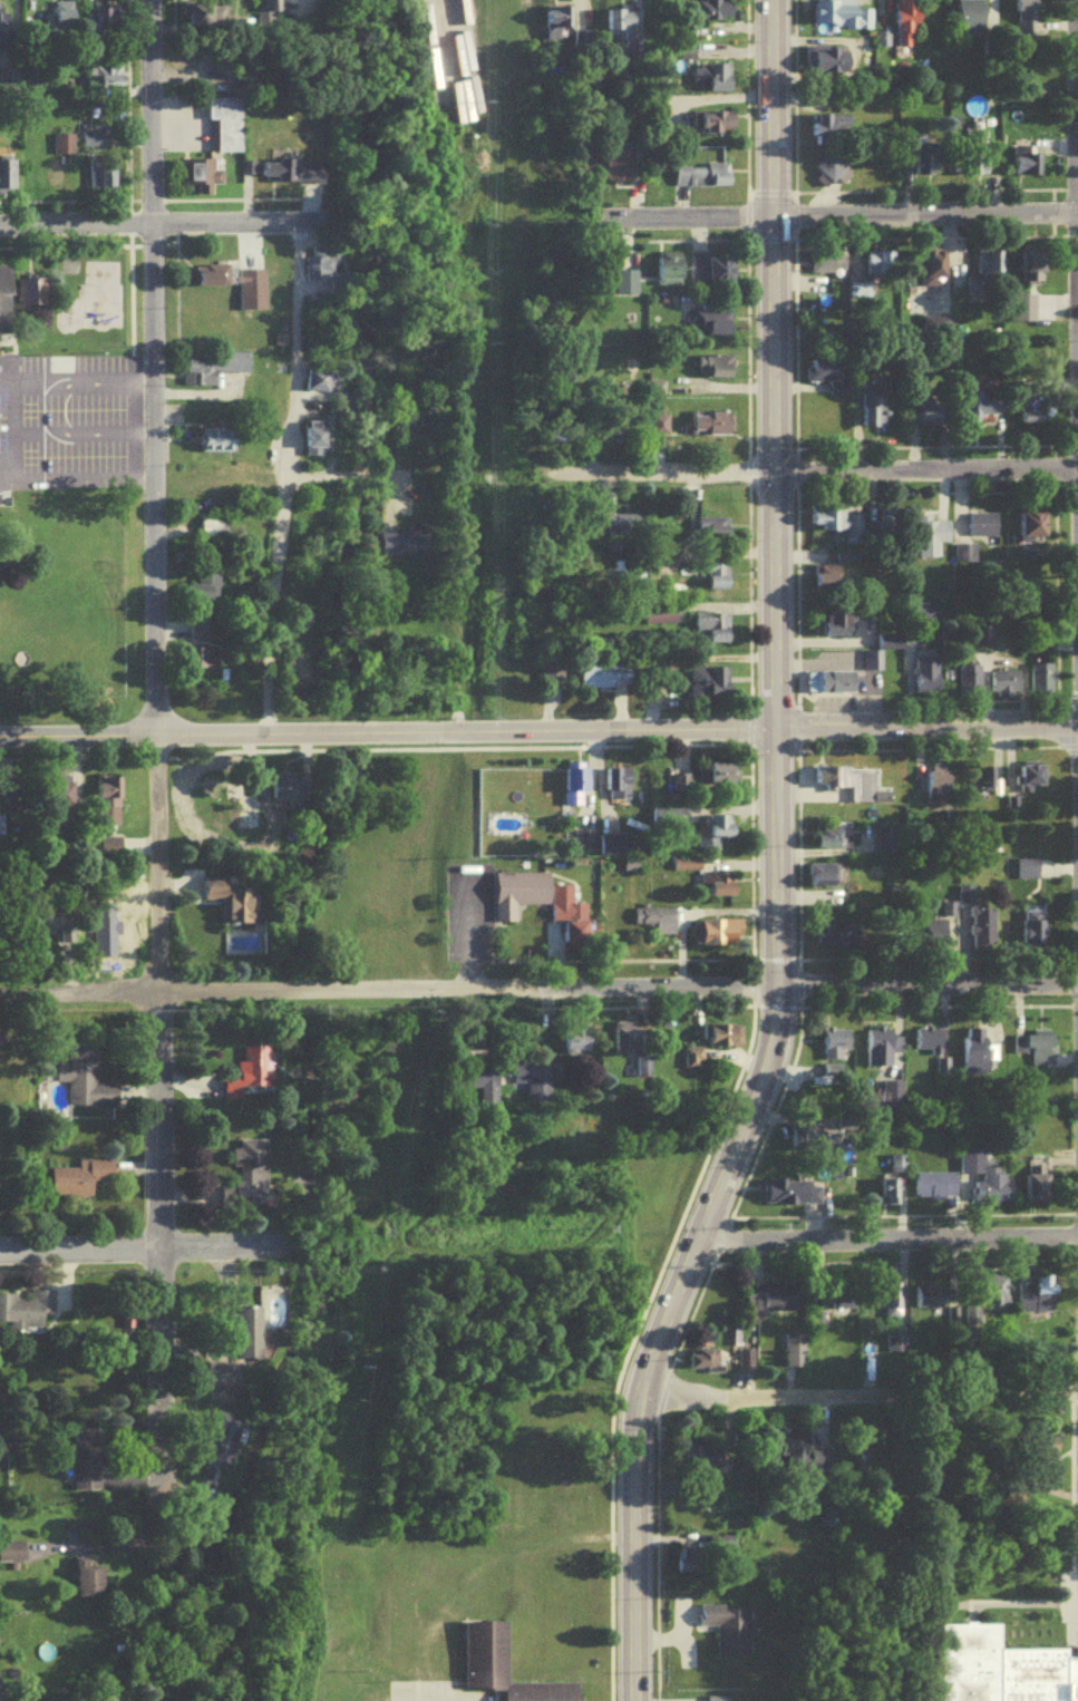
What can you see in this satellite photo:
building: (718, 13)
building: (269, 17)
building: (841, 18)
building: (1027, 19)
building: (205, 20)
building: (972, 20)
building: (111, 23)
building: (907, 26)
building: (557, 27)
building: (621, 28)
building: (3, 33)
building: (883, 43)
building: (829, 65)
building: (711, 81)
building: (106, 84)
building: (8, 86)
road: (1076, 107)
building: (715, 126)
building: (229, 127)
building: (834, 132)
building: (90, 142)
building: (64, 147)
building: (929, 158)
building: (618, 166)
building: (1027, 166)
building: (833, 173)
building: (292, 175)
building: (101, 179)
building: (203, 179)
building: (702, 179)
building: (6, 181)
road: (838, 217)
road: (140, 226)
building: (280, 264)
building: (829, 268)
building: (990, 268)
building: (1035, 271)
building: (886, 272)
building: (318, 273)
building: (933, 273)
building: (670, 274)
building: (715, 274)
building: (213, 283)
building: (625, 288)
building: (35, 295)
building: (1045, 304)
building: (4, 305)
building: (713, 328)
building: (213, 372)
building: (721, 372)
building: (825, 377)
road: (95, 381)
building: (324, 387)
building: (991, 408)
road: (10, 409)
building: (1036, 416)
building: (874, 418)
building: (932, 419)
building: (713, 429)
road: (95, 435)
building: (221, 445)
building: (318, 447)
road: (9, 454)
road: (332, 472)
road: (383, 472)
road: (76, 473)
road: (815, 476)
road: (288, 483)
road: (398, 484)
road: (771, 490)
building: (836, 524)
building: (930, 526)
building: (624, 529)
building: (983, 531)
building: (214, 532)
building: (1035, 532)
building: (716, 533)
building: (404, 548)
building: (967, 558)
building: (716, 577)
building: (828, 580)
building: (206, 591)
building: (923, 615)
building: (660, 619)
building: (841, 628)
building: (713, 634)
building: (198, 638)
building: (891, 648)
building: (207, 663)
building: (603, 679)
building: (928, 681)
building: (1045, 683)
building: (972, 686)
building: (833, 687)
building: (710, 688)
building: (1008, 689)
road: (538, 735)
road: (153, 736)
building: (726, 778)
building: (983, 787)
building: (853, 788)
building: (621, 789)
building: (577, 790)
building: (280, 793)
building: (0, 800)
building: (62, 800)
building: (108, 801)
building: (0, 829)
building: (717, 835)
building: (834, 842)
building: (584, 845)
building: (1028, 874)
building: (825, 879)
building: (719, 890)
building: (964, 901)
building: (232, 905)
building: (542, 907)
building: (658, 924)
building: (56, 932)
building: (982, 932)
building: (1035, 932)
building: (720, 937)
building: (838, 939)
building: (934, 939)
road: (926, 982)
road: (466, 986)
road: (78, 992)
building: (579, 1042)
building: (726, 1042)
building: (628, 1043)
building: (929, 1044)
building: (836, 1050)
building: (883, 1052)
building: (1038, 1053)
building: (977, 1062)
building: (695, 1063)
building: (254, 1072)
building: (643, 1072)
building: (534, 1085)
building: (86, 1087)
building: (485, 1090)
building: (799, 1146)
building: (247, 1182)
building: (80, 1183)
building: (985, 1183)
building: (1038, 1184)
building: (935, 1192)
building: (890, 1196)
building: (793, 1197)
road: (713, 1207)
road: (887, 1243)
road: (155, 1250)
building: (998, 1297)
building: (1038, 1300)
building: (929, 1302)
building: (773, 1303)
building: (845, 1305)
building: (27, 1315)
building: (972, 1316)
building: (896, 1348)
building: (797, 1355)
building: (237, 1357)
building: (705, 1365)
building: (746, 1365)
road: (858, 1400)
building: (221, 1445)
building: (802, 1455)
building: (700, 1461)
building: (85, 1472)
road: (1068, 1512)
road: (120, 1545)
building: (11, 1557)
road: (637, 1565)
parking lot: (1075, 1584)
building: (88, 1586)
road: (965, 1614)
building: (730, 1633)
building: (998, 1665)
building: (501, 1669)
road: (406, 1693)
building: (2, 1694)

